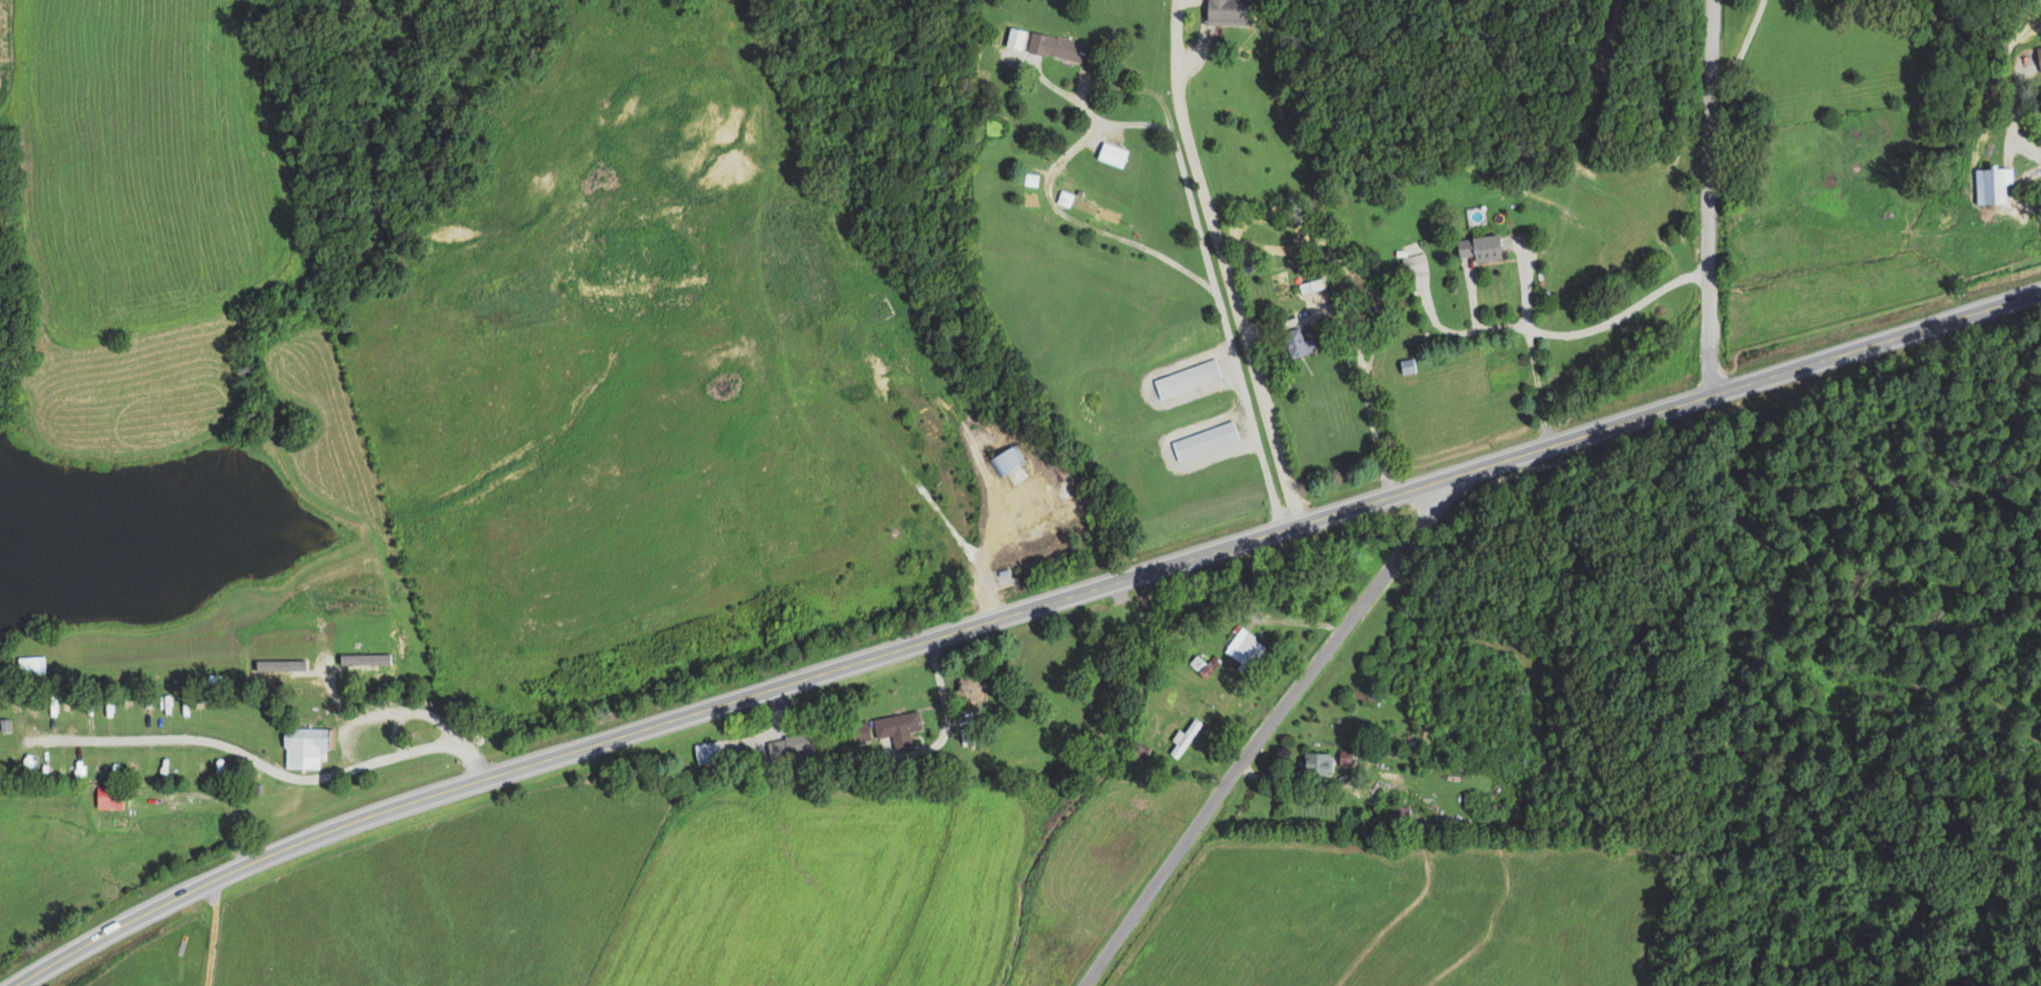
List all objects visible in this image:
building: (1227, 12)
building: (1055, 47)
building: (2038, 57)
building: (2040, 92)
building: (1111, 154)
building: (1991, 183)
road: (1707, 198)
building: (1087, 207)
building: (1479, 248)
road: (1222, 264)
building: (1413, 264)
building: (1296, 342)
road: (1876, 355)
building: (1186, 378)
building: (1204, 439)
building: (1245, 647)
road: (851, 663)
building: (31, 665)
building: (213, 680)
building: (970, 688)
building: (895, 728)
building: (860, 731)
building: (1185, 738)
building: (306, 746)
road: (1315, 749)
building: (706, 752)
building: (1316, 763)
building: (108, 798)

